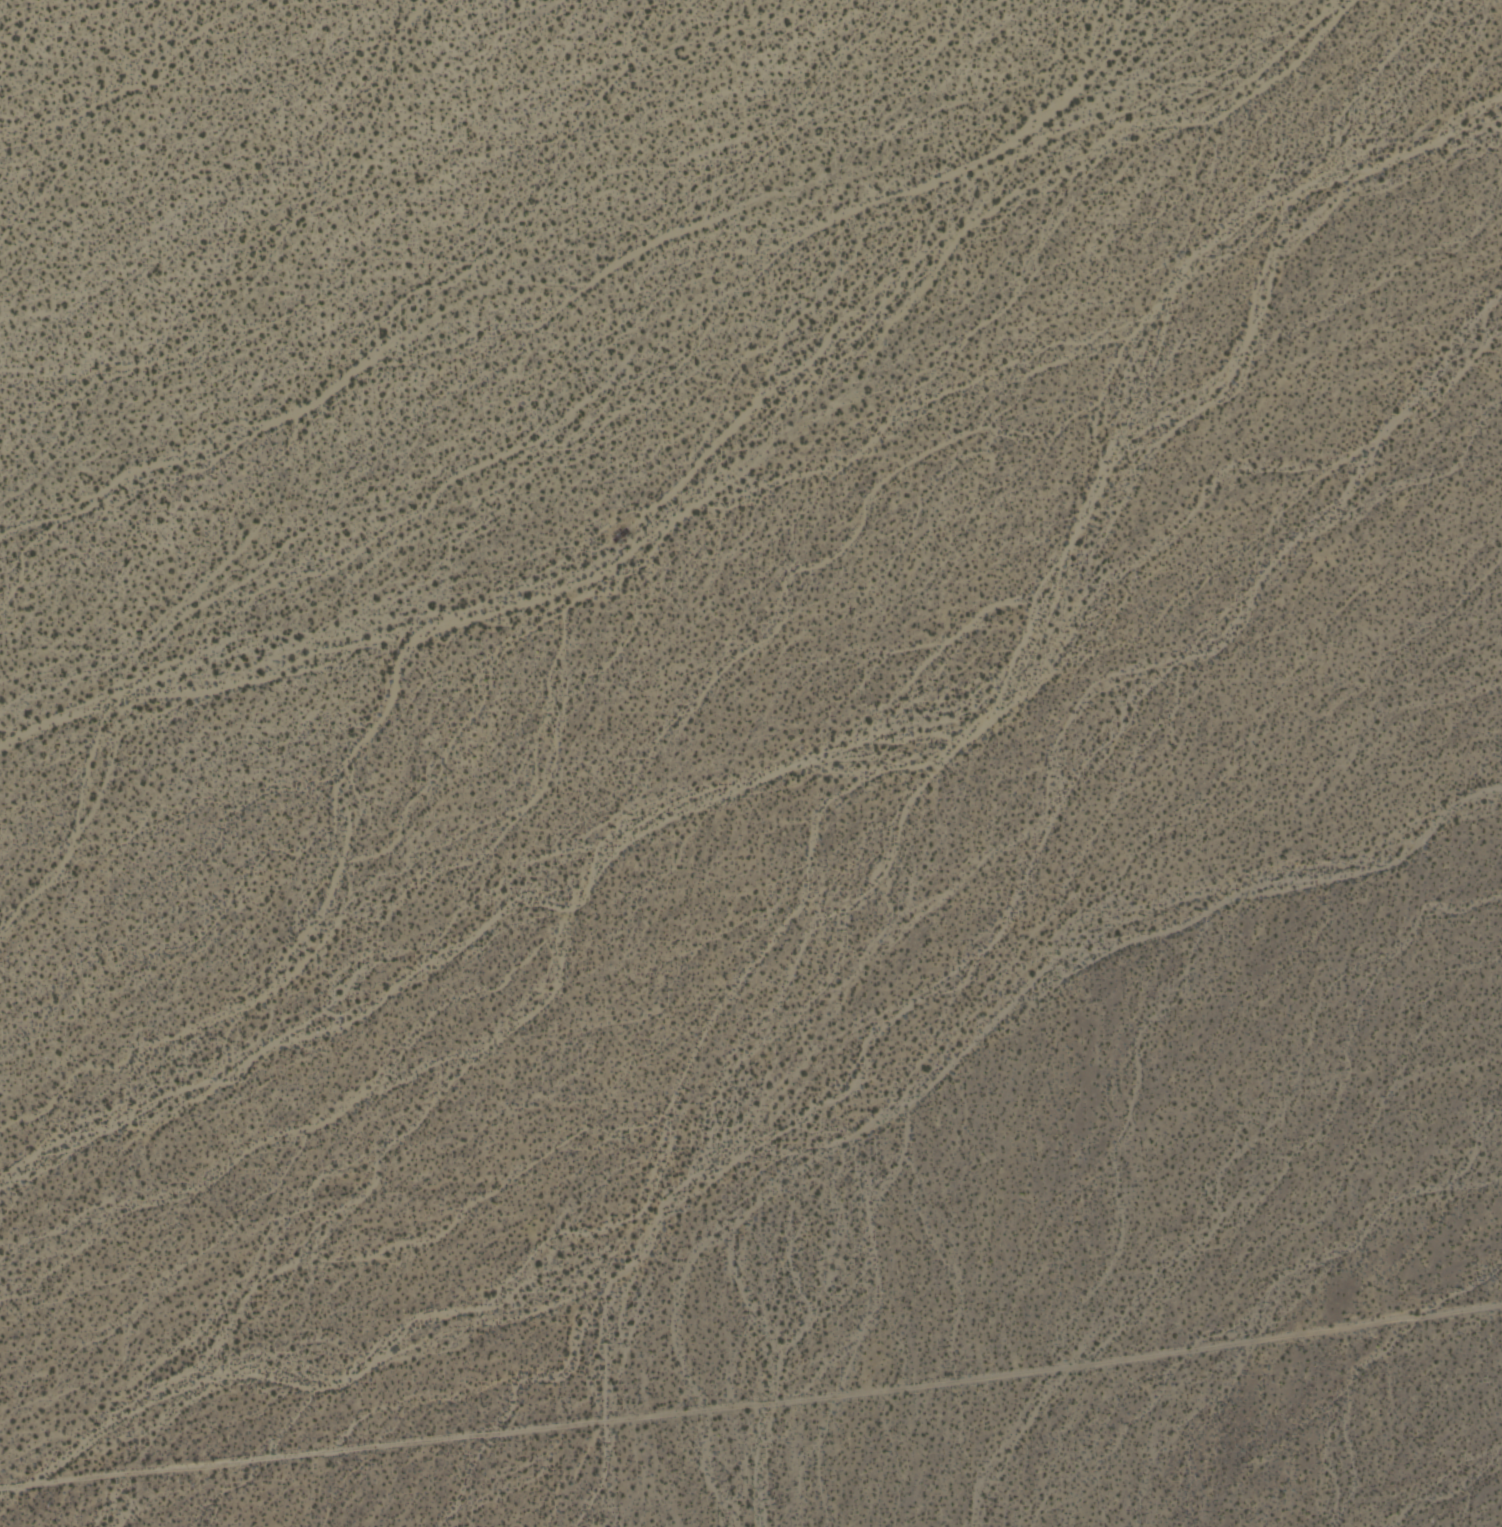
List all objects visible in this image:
road: (751, 1403)

